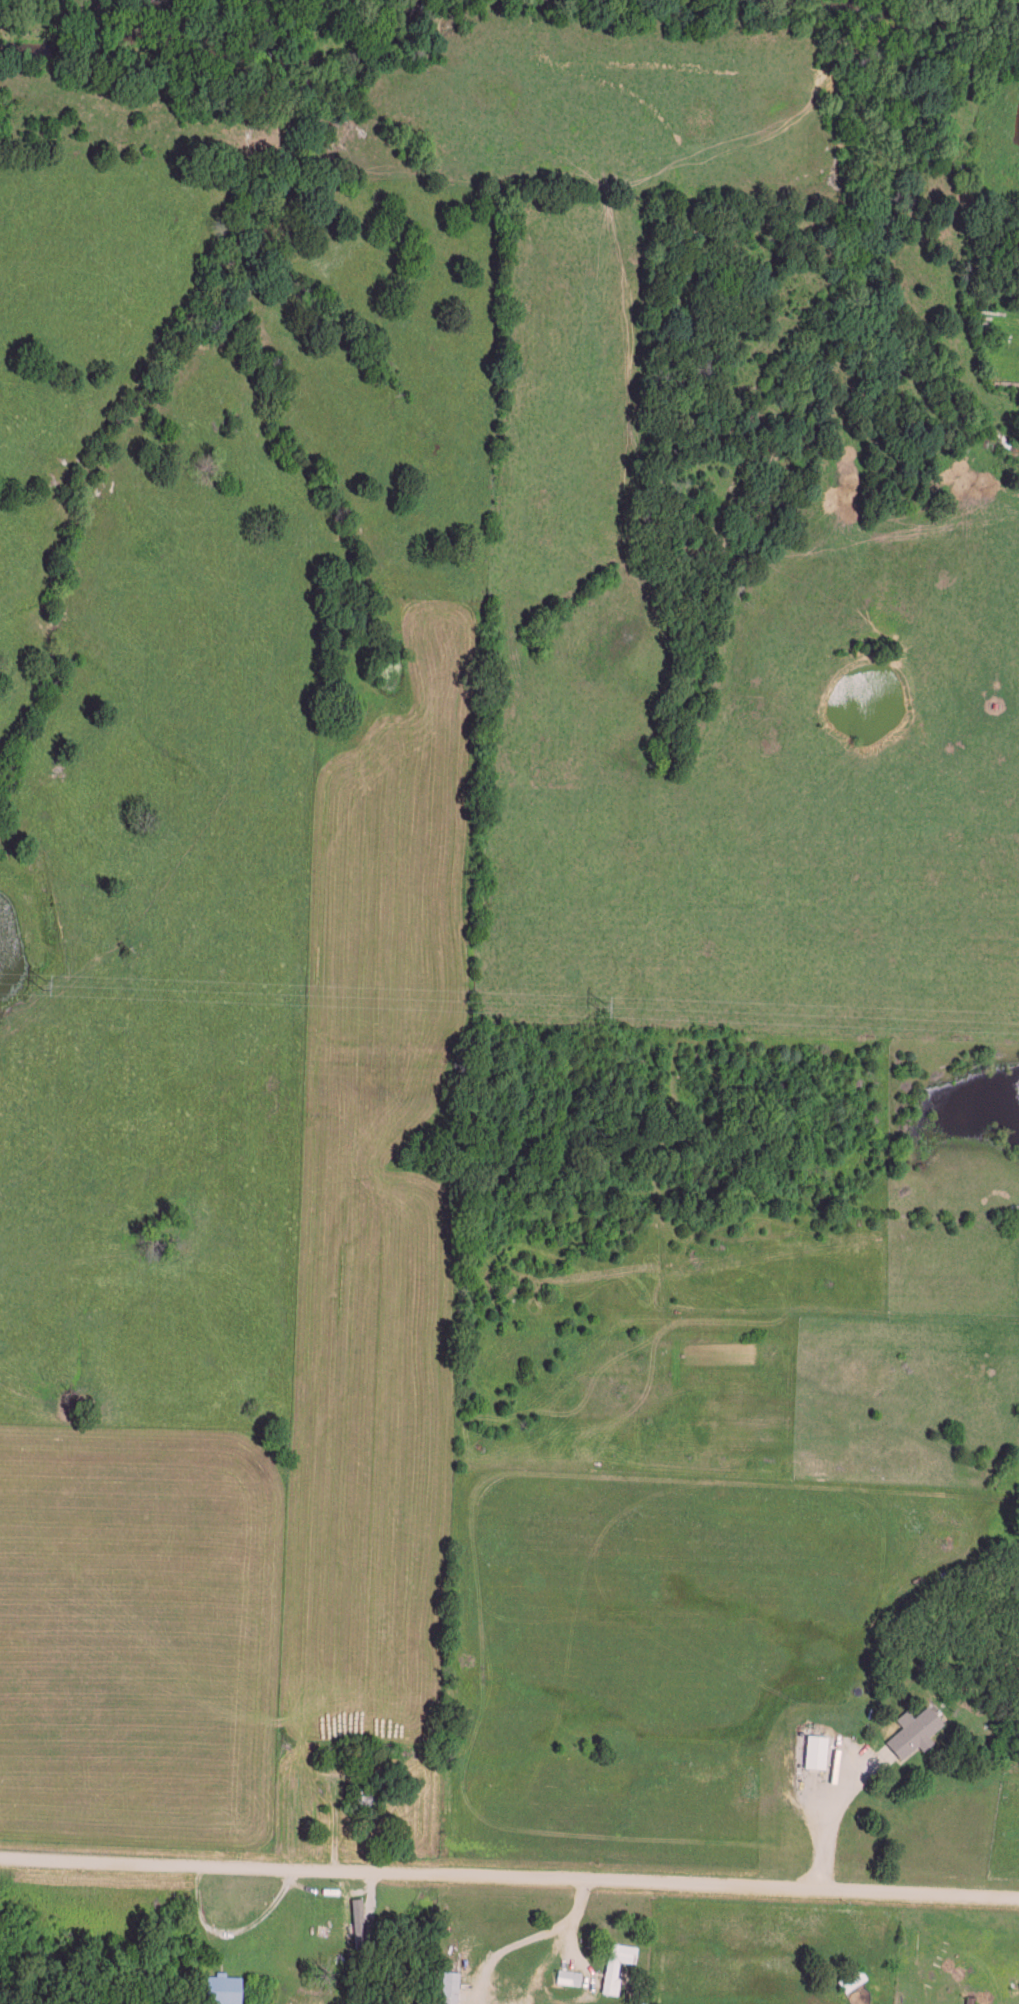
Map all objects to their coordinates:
power tower: (49, 982)
power tower: (608, 1005)
building: (915, 1729)
building: (817, 1749)
road: (832, 1816)
road: (283, 1857)
road: (509, 1878)
building: (359, 1920)
building: (617, 1963)
building: (570, 1975)
building: (224, 1987)
building: (447, 1988)

